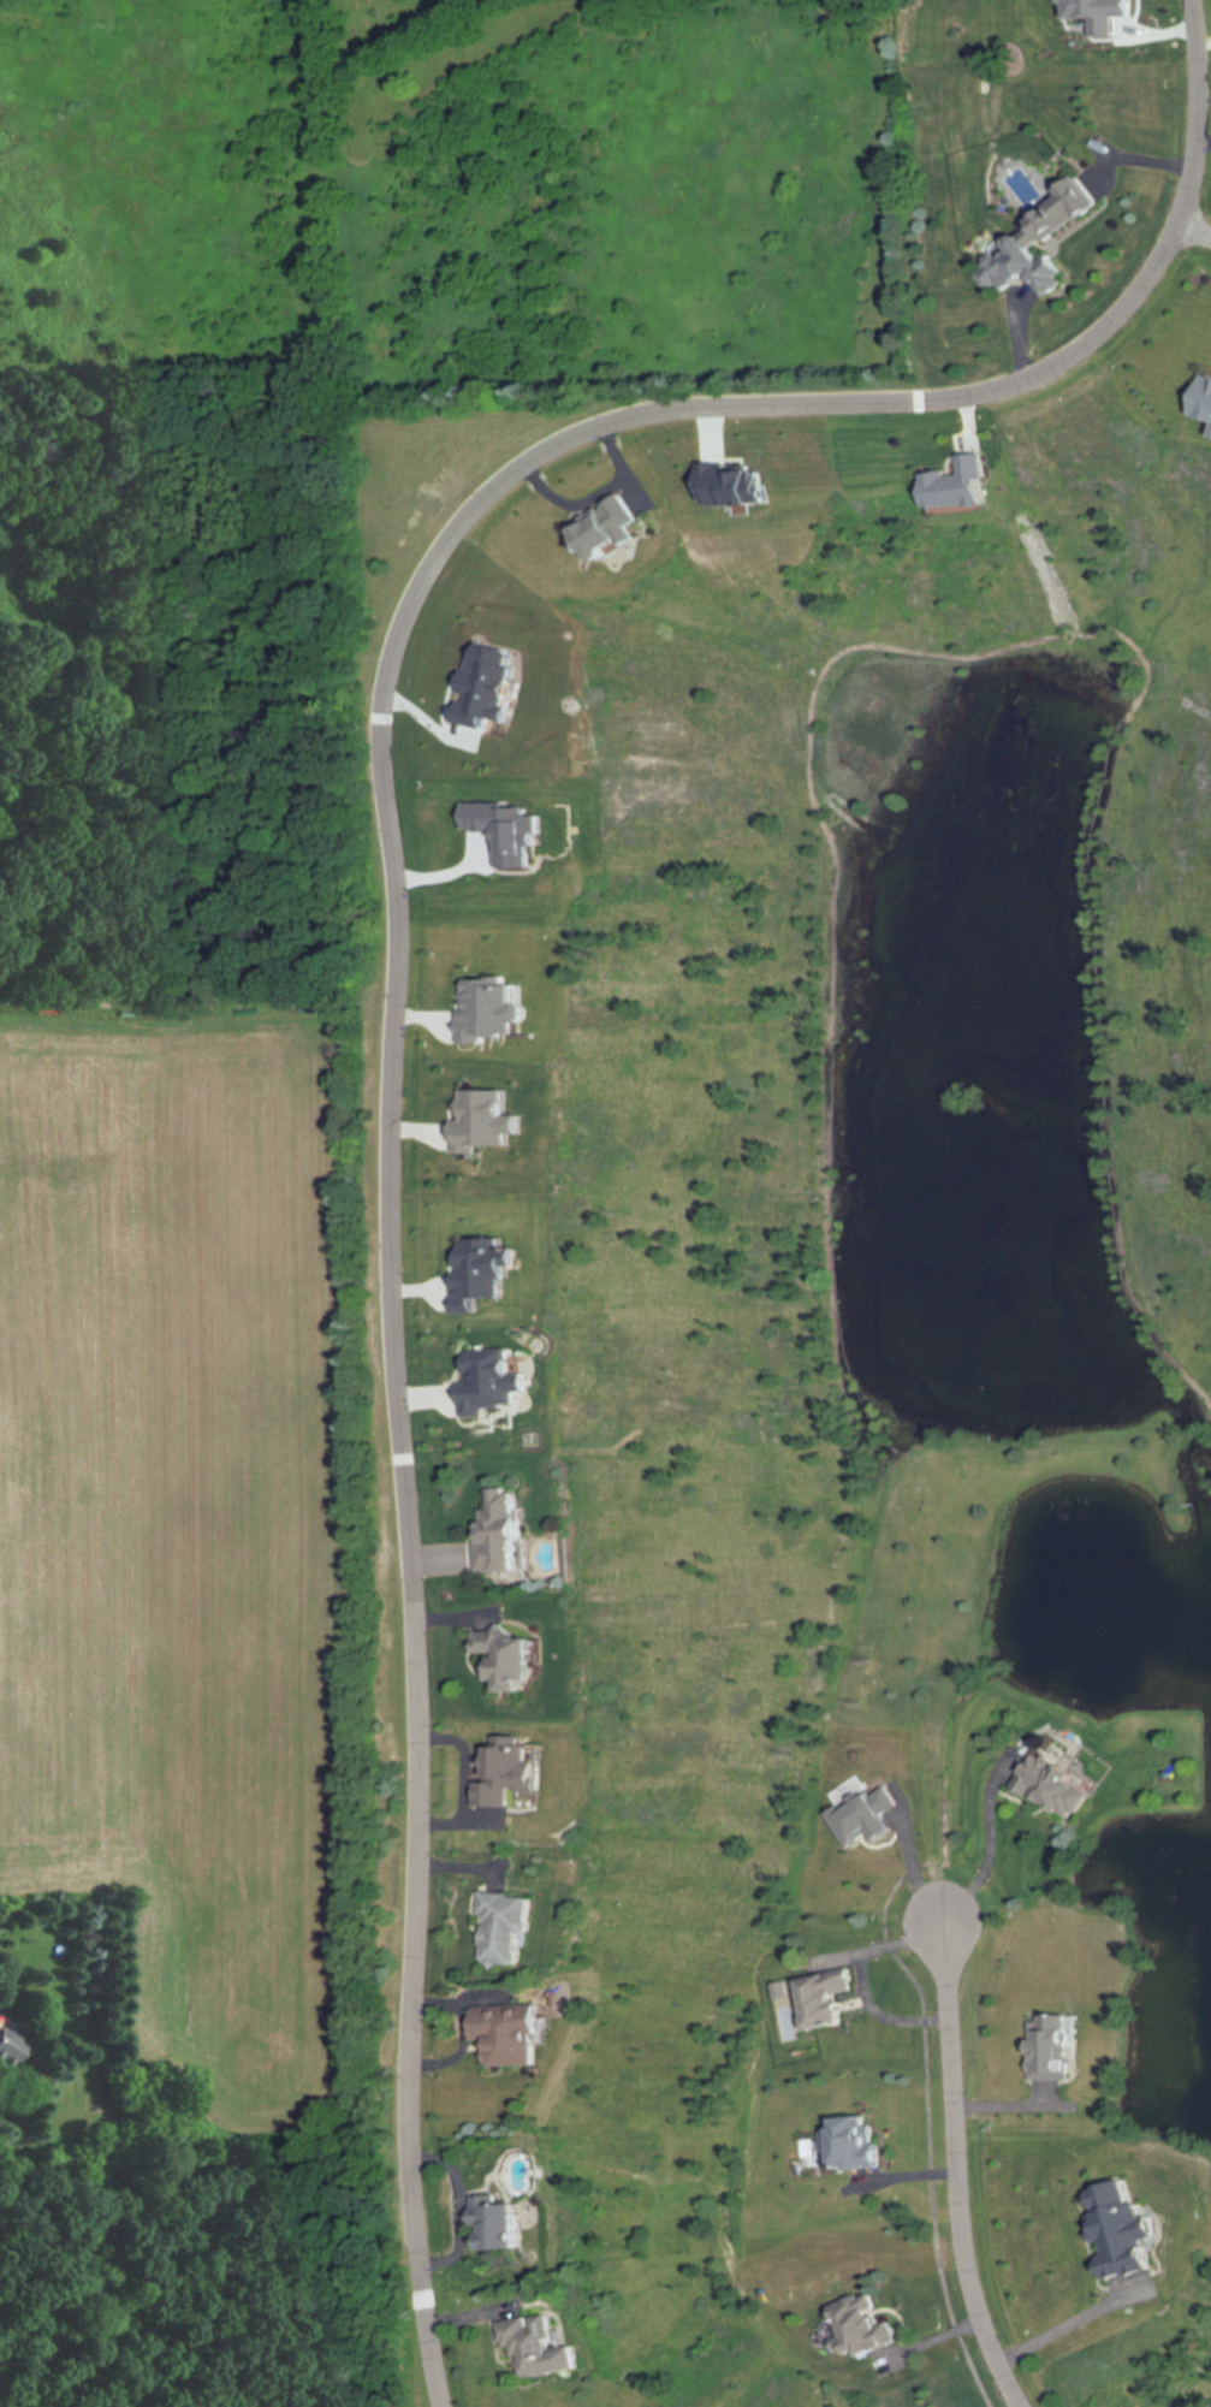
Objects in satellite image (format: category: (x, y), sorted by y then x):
road: (1195, 248)
building: (1020, 268)
road: (392, 927)
building: (495, 1534)
building: (503, 1656)
building: (1019, 1785)
road: (954, 1846)
road: (877, 1868)
building: (498, 1931)
road: (843, 1945)
building: (786, 1998)
road: (843, 2014)
building: (503, 2035)
road: (924, 2174)
building: (491, 2225)
building: (833, 2325)
building: (534, 2346)

